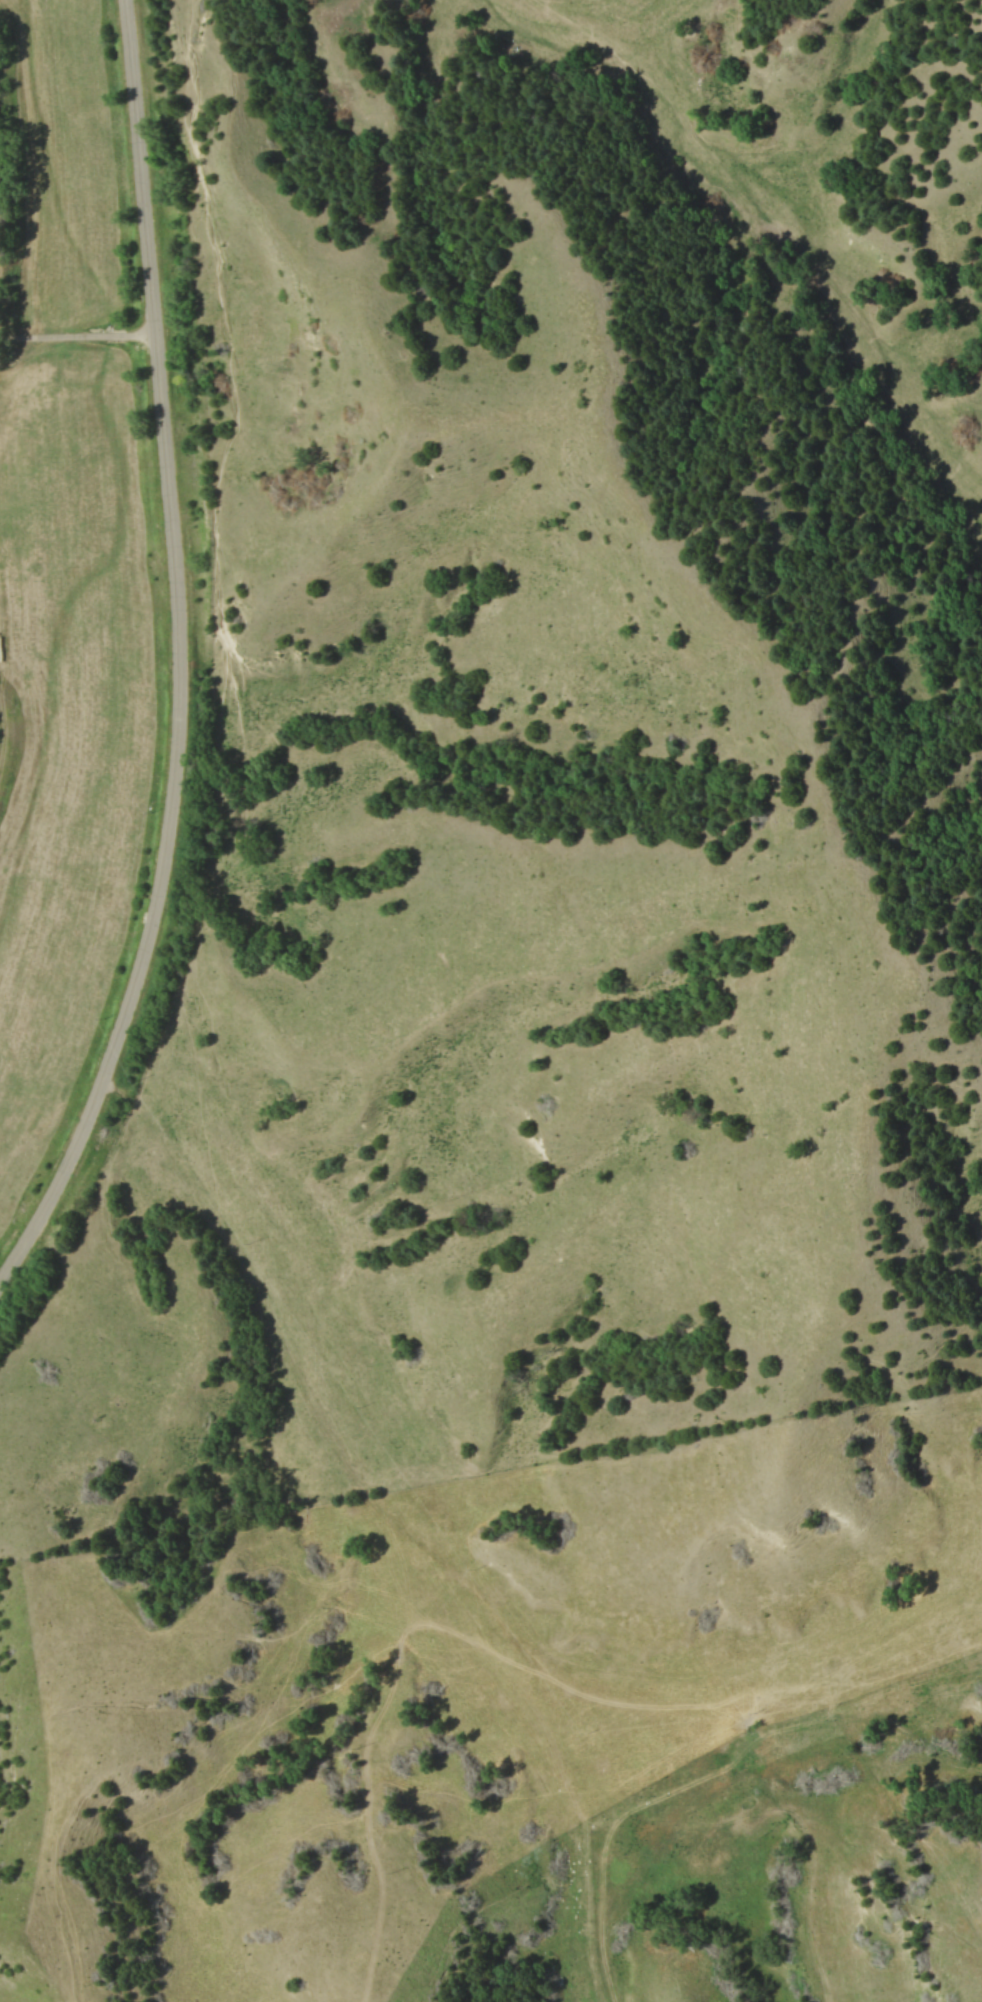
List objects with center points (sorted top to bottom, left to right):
road: (78, 332)
road: (182, 656)

